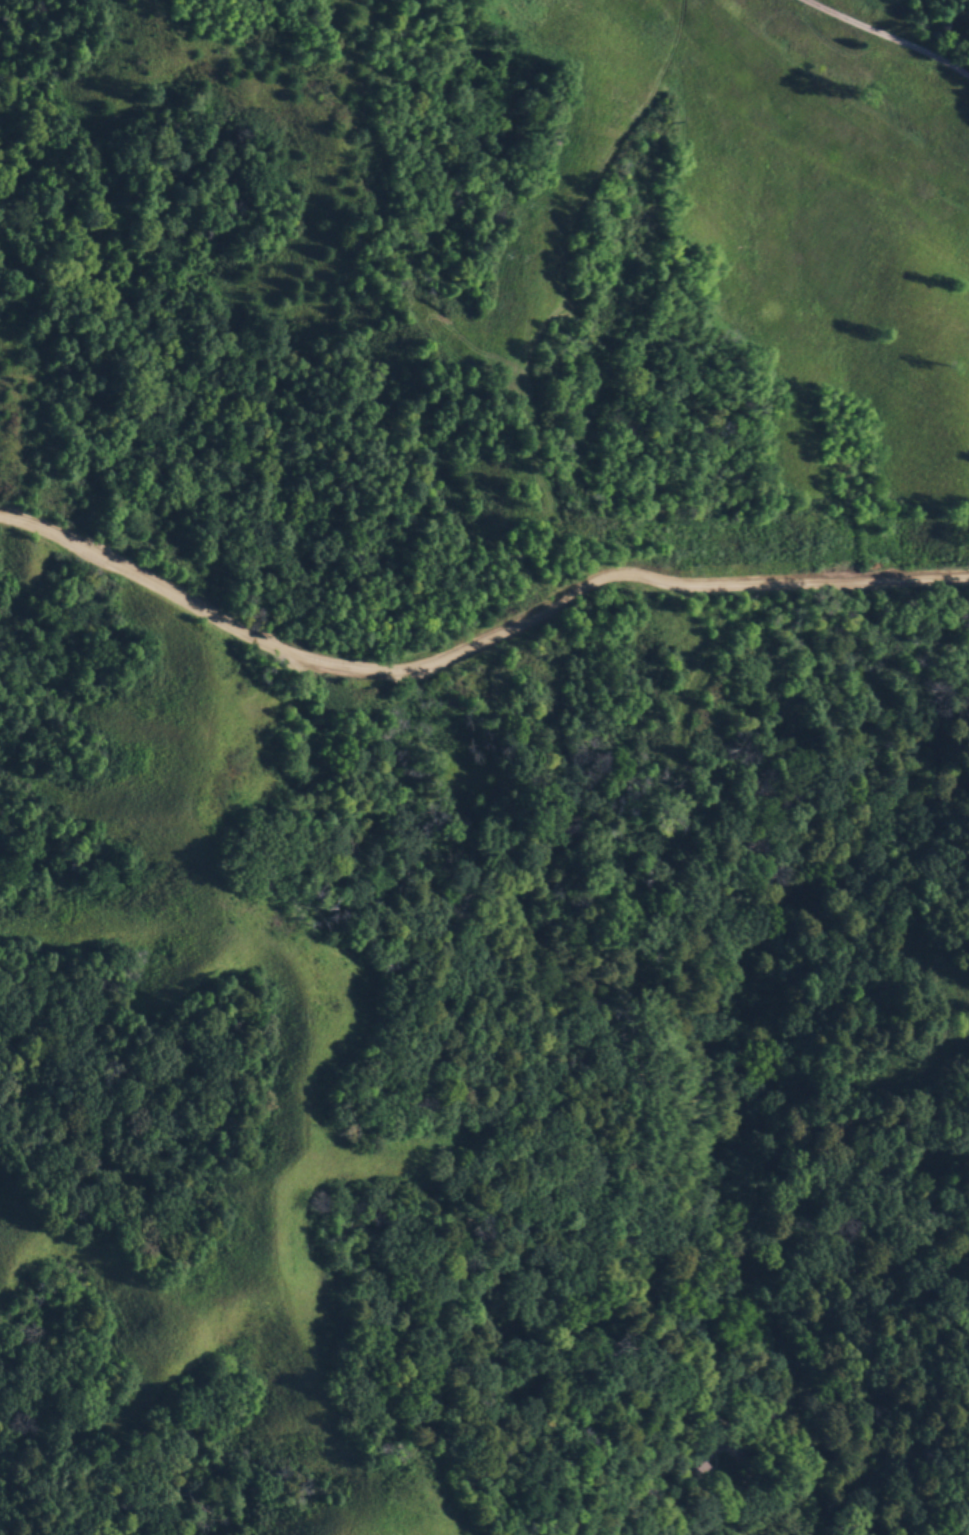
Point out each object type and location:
road: (473, 642)
park: (495, 1049)

